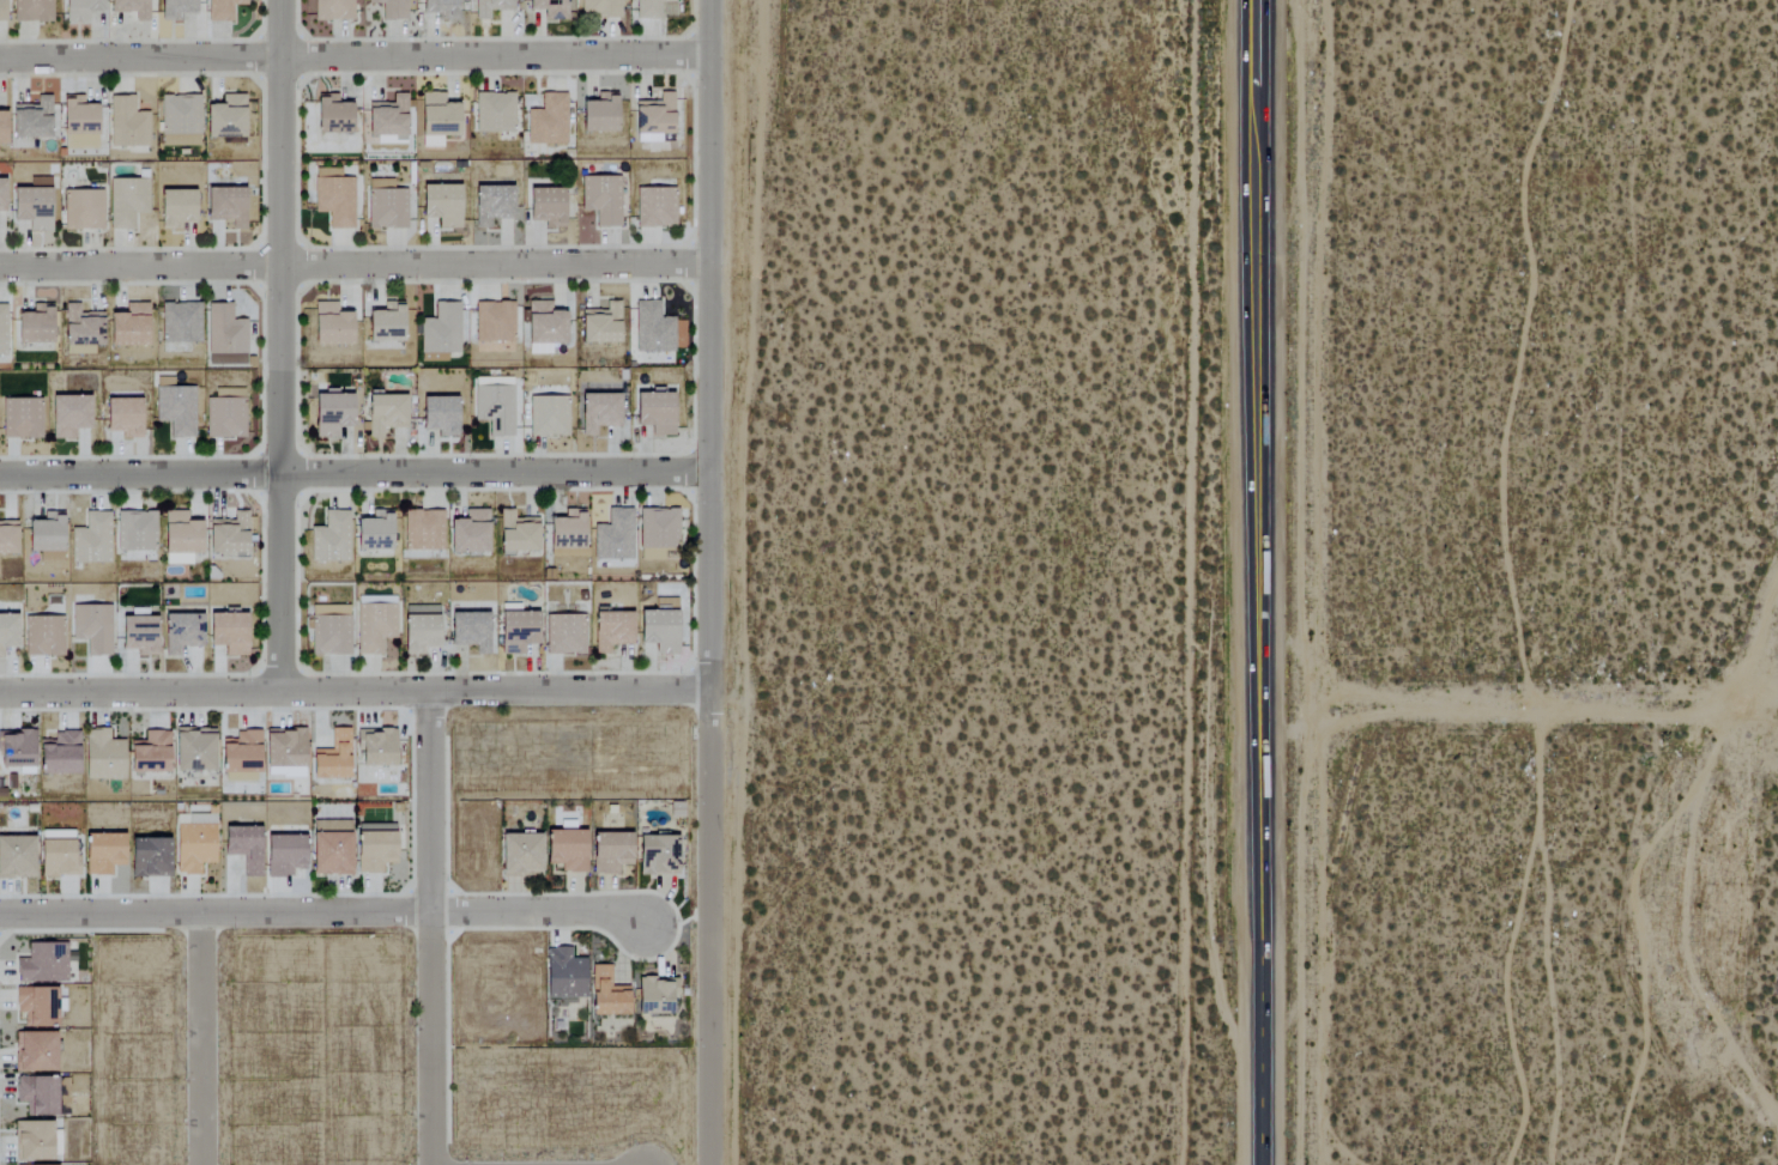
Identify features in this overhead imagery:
building: (490, 7)
building: (129, 8)
building: (392, 8)
building: (550, 8)
building: (599, 8)
building: (649, 8)
building: (79, 10)
building: (174, 10)
building: (222, 10)
building: (332, 10)
building: (2, 11)
building: (32, 11)
road: (355, 57)
building: (494, 113)
building: (598, 114)
building: (331, 115)
building: (653, 116)
building: (31, 119)
building: (226, 119)
building: (387, 120)
building: (436, 120)
building: (180, 121)
building: (548, 121)
building: (78, 123)
building: (127, 123)
building: (1, 128)
building: (2, 195)
building: (333, 198)
building: (601, 200)
building: (126, 202)
building: (31, 205)
building: (386, 205)
building: (441, 205)
building: (225, 206)
building: (491, 206)
building: (544, 206)
building: (654, 207)
building: (83, 210)
building: (175, 210)
road: (355, 267)
building: (385, 322)
building: (494, 322)
building: (180, 323)
building: (329, 324)
building: (600, 324)
building: (32, 326)
building: (128, 326)
building: (544, 328)
building: (652, 328)
building: (2, 329)
building: (80, 330)
building: (224, 330)
building: (441, 330)
road: (282, 345)
building: (495, 407)
building: (176, 411)
building: (385, 412)
building: (599, 413)
building: (653, 413)
building: (225, 414)
building: (331, 414)
building: (68, 415)
building: (439, 415)
building: (548, 415)
building: (121, 417)
building: (22, 419)
road: (356, 478)
building: (423, 530)
building: (566, 530)
building: (135, 532)
building: (373, 533)
building: (470, 533)
building: (516, 533)
building: (657, 533)
building: (180, 534)
building: (228, 535)
building: (42, 536)
building: (613, 536)
building: (7, 538)
building: (91, 539)
building: (329, 539)
building: (568, 553)
building: (177, 559)
road: (712, 582)
road: (1265, 582)
building: (374, 624)
building: (91, 629)
building: (329, 630)
building: (419, 630)
building: (658, 630)
building: (470, 631)
building: (611, 631)
building: (7, 632)
building: (516, 632)
building: (181, 633)
building: (226, 633)
building: (564, 635)
building: (43, 636)
building: (137, 636)
road: (1522, 690)
road: (356, 691)
building: (375, 748)
building: (16, 750)
building: (193, 750)
building: (58, 754)
building: (149, 754)
building: (240, 754)
building: (102, 756)
building: (332, 758)
building: (193, 843)
building: (243, 848)
building: (329, 848)
building: (374, 848)
building: (564, 850)
building: (609, 852)
building: (102, 854)
building: (519, 855)
building: (282, 856)
building: (657, 856)
building: (16, 857)
building: (147, 858)
building: (56, 860)
road: (325, 914)
road: (430, 928)
building: (42, 963)
building: (563, 973)
building: (606, 993)
building: (36, 1005)
road: (201, 1039)
building: (34, 1051)
building: (36, 1093)
building: (35, 1140)

